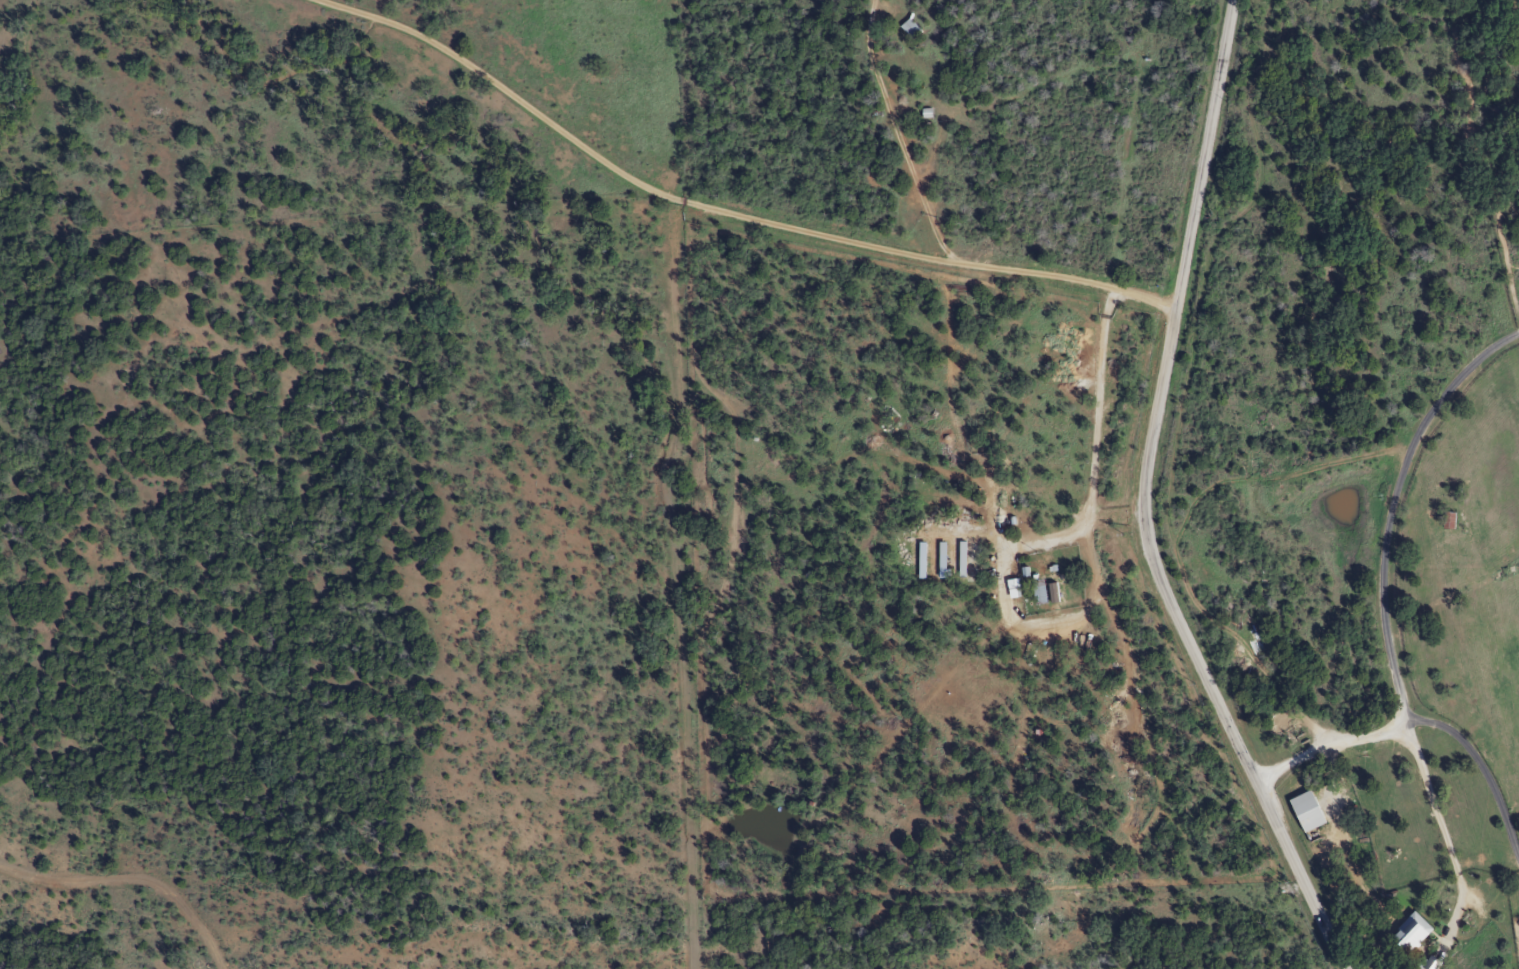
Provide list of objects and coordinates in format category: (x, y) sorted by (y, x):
building: (904, 28)
road: (726, 212)
road: (1094, 461)
road: (1141, 502)
building: (1447, 520)
road: (675, 568)
road: (1381, 581)
building: (1034, 592)
building: (1305, 812)
road: (132, 880)
building: (1408, 933)
building: (1428, 965)

